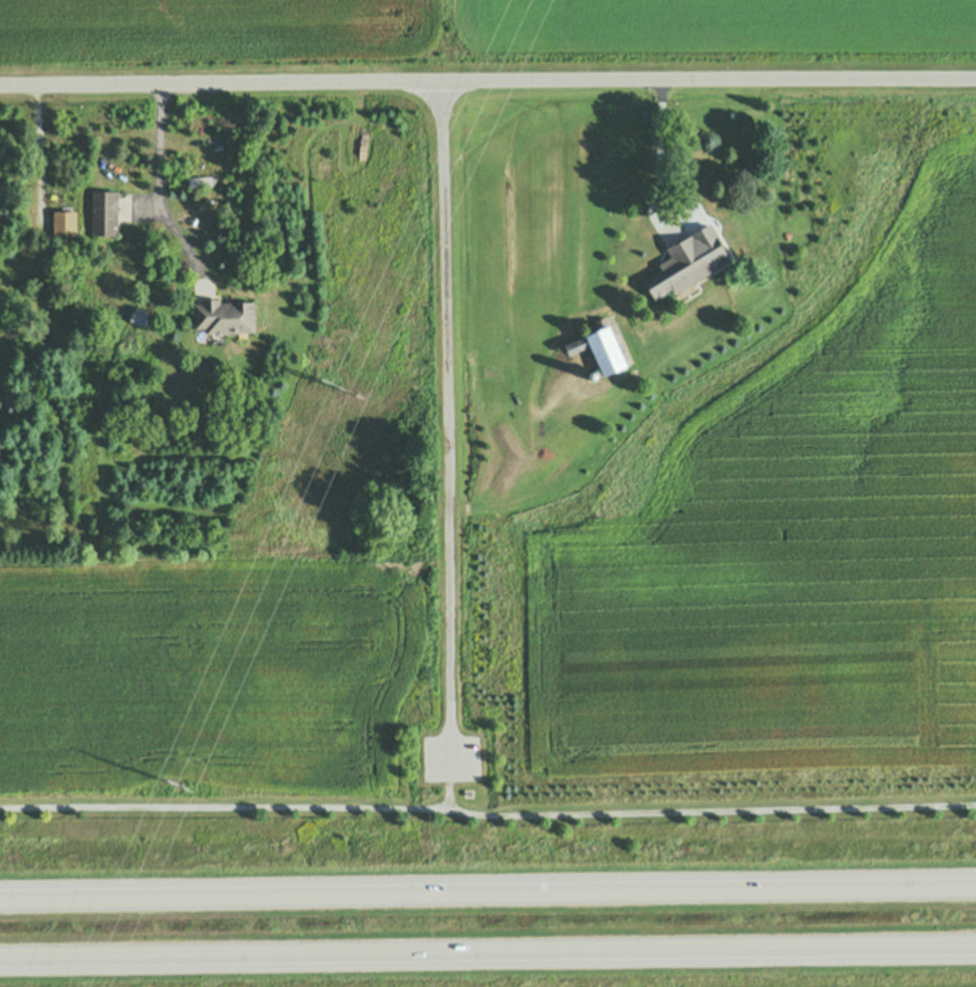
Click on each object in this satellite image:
road: (487, 81)
road: (658, 158)
building: (217, 166)
building: (692, 172)
building: (705, 173)
building: (200, 182)
road: (158, 194)
building: (105, 213)
building: (708, 217)
building: (65, 223)
building: (712, 247)
building: (681, 267)
building: (687, 287)
building: (2, 304)
building: (227, 315)
building: (133, 324)
building: (217, 335)
building: (601, 349)
building: (594, 376)
power tower: (341, 388)
road: (448, 409)
parking lot: (451, 760)
road: (449, 761)
power tower: (178, 784)
road: (447, 798)
road: (487, 817)
road: (488, 893)
road: (488, 949)
building: (276, 961)

